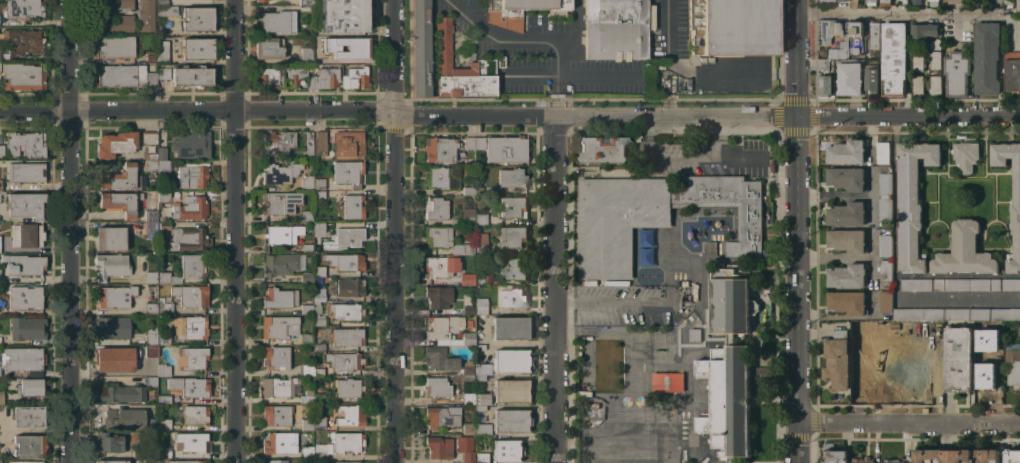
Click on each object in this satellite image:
building: (260, 0)
road: (439, 0)
building: (825, 0)
building: (843, 0)
building: (162, 1)
building: (904, 1)
building: (916, 1)
building: (957, 1)
building: (998, 1)
building: (185, 2)
building: (305, 2)
building: (871, 2)
building: (885, 2)
building: (933, 3)
building: (1008, 3)
building: (114, 4)
building: (535, 4)
building: (1018, 5)
building: (25, 8)
building: (167, 10)
road: (459, 10)
road: (897, 13)
building: (146, 15)
building: (343, 15)
building: (504, 16)
building: (197, 18)
building: (276, 21)
building: (113, 23)
building: (694, 25)
building: (736, 27)
building: (840, 28)
building: (614, 29)
building: (923, 30)
building: (826, 31)
building: (874, 34)
parking lot: (530, 37)
building: (856, 39)
building: (23, 40)
building: (935, 43)
building: (115, 46)
building: (269, 47)
building: (347, 47)
building: (420, 47)
building: (197, 48)
building: (840, 50)
building: (162, 51)
building: (306, 54)
road: (392, 56)
building: (151, 57)
road: (522, 57)
building: (987, 57)
building: (893, 59)
building: (935, 59)
building: (918, 60)
building: (824, 64)
building: (0, 66)
building: (460, 68)
building: (1012, 70)
building: (163, 73)
building: (956, 73)
building: (124, 75)
building: (192, 75)
building: (23, 76)
building: (299, 77)
building: (356, 77)
building: (872, 77)
building: (269, 78)
building: (326, 78)
building: (849, 78)
building: (918, 84)
building: (935, 84)
building: (826, 85)
building: (546, 89)
road: (509, 115)
building: (149, 137)
building: (638, 138)
building: (278, 142)
building: (116, 143)
building: (320, 143)
building: (348, 143)
building: (474, 143)
building: (25, 144)
building: (191, 145)
building: (309, 145)
building: (440, 148)
building: (506, 149)
building: (603, 149)
building: (1, 151)
building: (847, 151)
building: (162, 152)
building: (883, 152)
building: (966, 155)
building: (151, 156)
road: (678, 156)
building: (745, 163)
building: (151, 165)
building: (163, 166)
building: (26, 172)
building: (280, 173)
building: (348, 173)
building: (192, 175)
building: (121, 177)
building: (443, 177)
building: (512, 178)
building: (847, 178)
building: (885, 179)
building: (307, 182)
building: (319, 183)
building: (0, 185)
building: (468, 190)
building: (479, 190)
building: (2, 192)
building: (319, 193)
building: (164, 196)
building: (765, 198)
building: (912, 201)
building: (120, 202)
building: (281, 202)
building: (25, 204)
building: (350, 206)
building: (514, 207)
building: (1015, 207)
building: (189, 208)
building: (436, 208)
building: (885, 208)
building: (151, 212)
building: (847, 213)
building: (306, 214)
building: (657, 215)
building: (465, 217)
building: (481, 218)
building: (164, 225)
building: (150, 228)
building: (319, 228)
road: (67, 231)
road: (233, 231)
road: (795, 231)
building: (27, 235)
building: (280, 235)
building: (438, 236)
building: (513, 236)
building: (346, 237)
building: (110, 238)
building: (187, 239)
building: (847, 240)
building: (481, 243)
building: (885, 245)
building: (463, 248)
building: (712, 248)
building: (964, 251)
building: (318, 254)
building: (349, 262)
building: (23, 263)
building: (282, 264)
building: (110, 265)
building: (441, 266)
building: (186, 268)
building: (514, 268)
road: (895, 269)
building: (319, 270)
building: (885, 270)
building: (481, 272)
building: (847, 275)
building: (150, 276)
building: (307, 277)
building: (467, 278)
building: (915, 284)
building: (967, 284)
building: (1011, 284)
building: (349, 287)
road: (393, 288)
road: (554, 289)
building: (319, 294)
building: (191, 295)
building: (114, 296)
building: (25, 297)
building: (280, 297)
building: (437, 297)
building: (512, 298)
building: (847, 301)
building: (886, 301)
road: (610, 302)
building: (164, 306)
building: (481, 306)
building: (151, 308)
building: (307, 308)
building: (469, 310)
building: (345, 311)
building: (955, 314)
building: (320, 321)
building: (279, 326)
building: (444, 326)
building: (113, 327)
building: (195, 327)
building: (510, 327)
building: (27, 328)
building: (895, 330)
building: (920, 332)
building: (987, 332)
building: (871, 333)
building: (695, 334)
building: (151, 335)
building: (347, 336)
building: (468, 337)
building: (164, 338)
building: (306, 338)
building: (1012, 346)
building: (319, 347)
building: (480, 347)
building: (150, 349)
building: (981, 352)
building: (192, 357)
building: (276, 357)
building: (22, 358)
building: (115, 358)
building: (439, 358)
building: (958, 358)
building: (344, 360)
building: (511, 360)
building: (836, 360)
building: (604, 364)
building: (729, 366)
building: (468, 367)
building: (1013, 367)
building: (150, 368)
building: (163, 369)
building: (307, 369)
building: (482, 369)
building: (318, 370)
building: (763, 370)
building: (862, 371)
building: (924, 372)
building: (0, 373)
building: (986, 374)
building: (894, 375)
building: (466, 377)
building: (472, 377)
building: (480, 378)
building: (151, 381)
building: (667, 381)
building: (189, 386)
building: (277, 386)
building: (438, 386)
building: (31, 387)
building: (348, 387)
building: (1, 389)
building: (506, 391)
building: (467, 392)
building: (121, 394)
building: (307, 396)
building: (164, 398)
building: (319, 398)
building: (480, 407)
building: (195, 414)
building: (276, 414)
building: (351, 415)
building: (28, 416)
building: (443, 416)
building: (125, 418)
building: (511, 420)
road: (907, 422)
building: (319, 423)
building: (150, 424)
building: (165, 424)
building: (308, 424)
building: (469, 428)
building: (483, 428)
building: (191, 441)
building: (347, 441)
building: (280, 442)
building: (109, 444)
building: (28, 445)
building: (439, 447)
building: (466, 449)
building: (165, 450)
building: (322, 450)
building: (506, 450)
building: (307, 451)
building: (139, 452)
building: (956, 455)
building: (835, 456)
building: (482, 457)
building: (1013, 459)
building: (863, 460)
building: (111, 461)
building: (185, 461)
building: (277, 461)
building: (892, 461)
building: (23, 462)
building: (345, 462)

